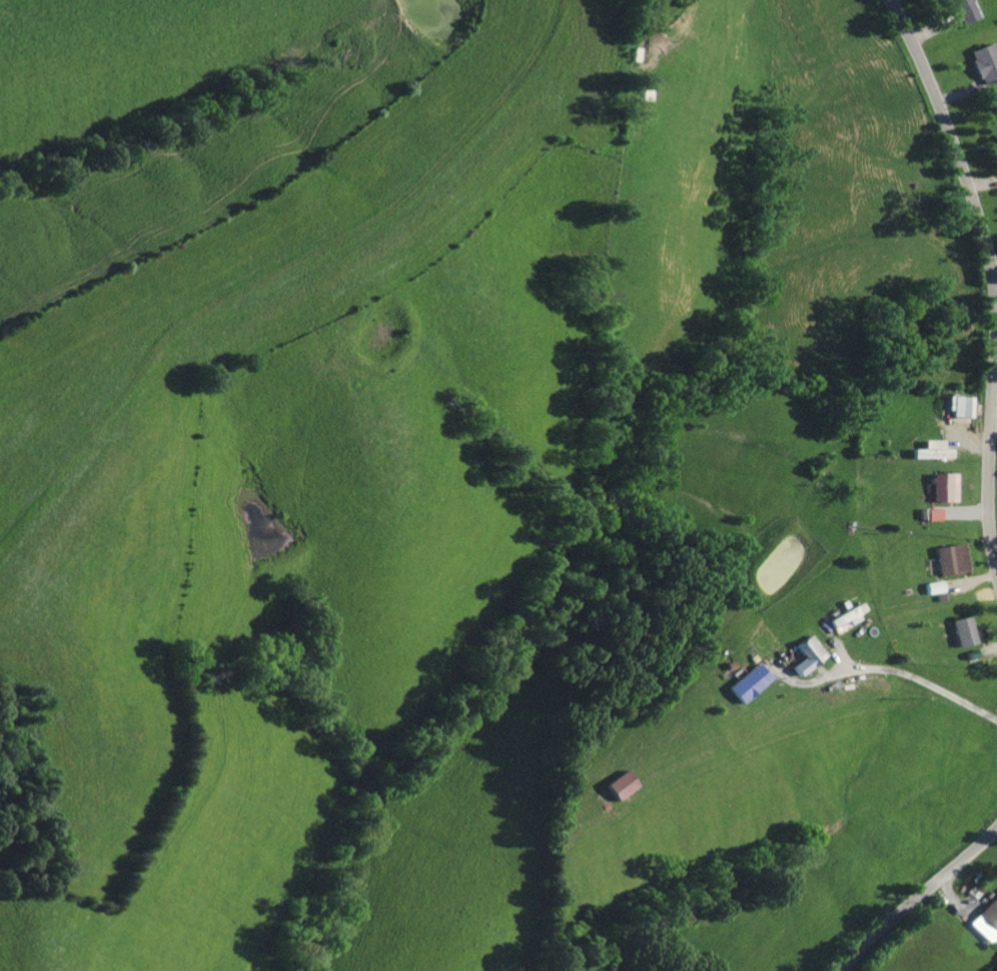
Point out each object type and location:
building: (966, 10)
building: (987, 62)
road: (984, 303)
building: (966, 406)
building: (937, 450)
building: (947, 487)
building: (937, 514)
building: (953, 557)
building: (937, 586)
building: (851, 614)
building: (965, 629)
building: (811, 653)
building: (752, 681)
building: (625, 783)
road: (911, 888)
building: (986, 920)

